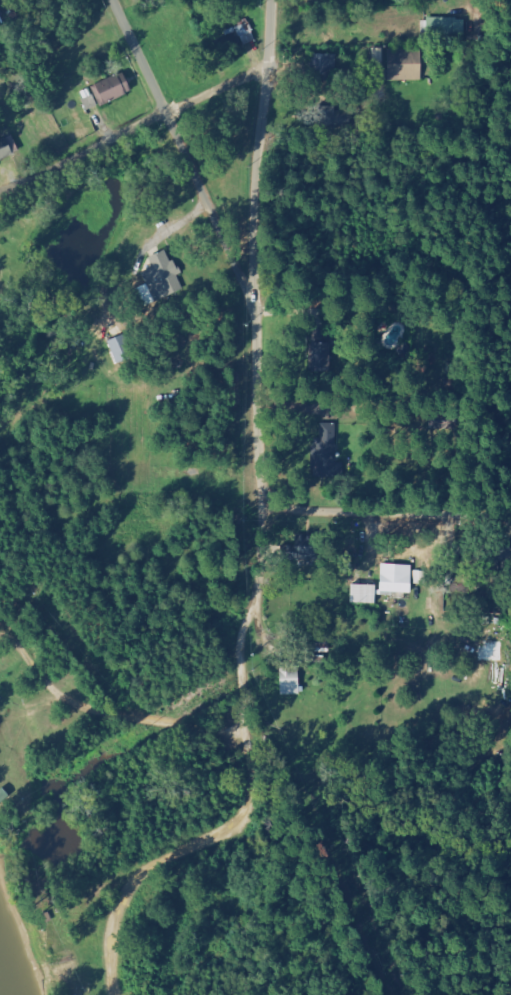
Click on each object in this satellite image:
building: (1, 18)
building: (444, 25)
building: (244, 33)
building: (397, 61)
building: (110, 88)
road: (174, 105)
building: (7, 147)
road: (193, 152)
building: (164, 273)
building: (145, 294)
building: (317, 354)
road: (263, 386)
building: (325, 450)
road: (388, 518)
building: (296, 552)
building: (395, 577)
building: (363, 592)
building: (288, 680)
road: (165, 869)

